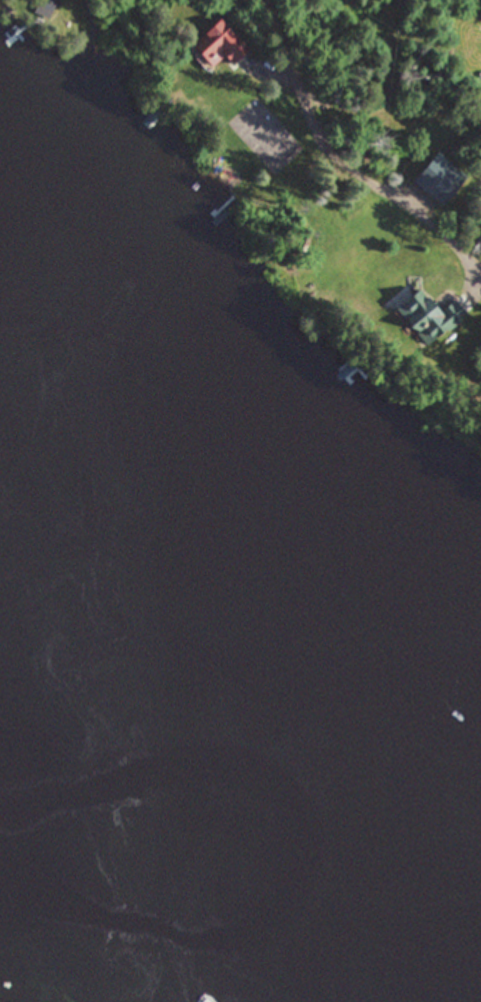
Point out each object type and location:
building: (224, 45)
road: (353, 164)
building: (429, 310)
river: (252, 762)

